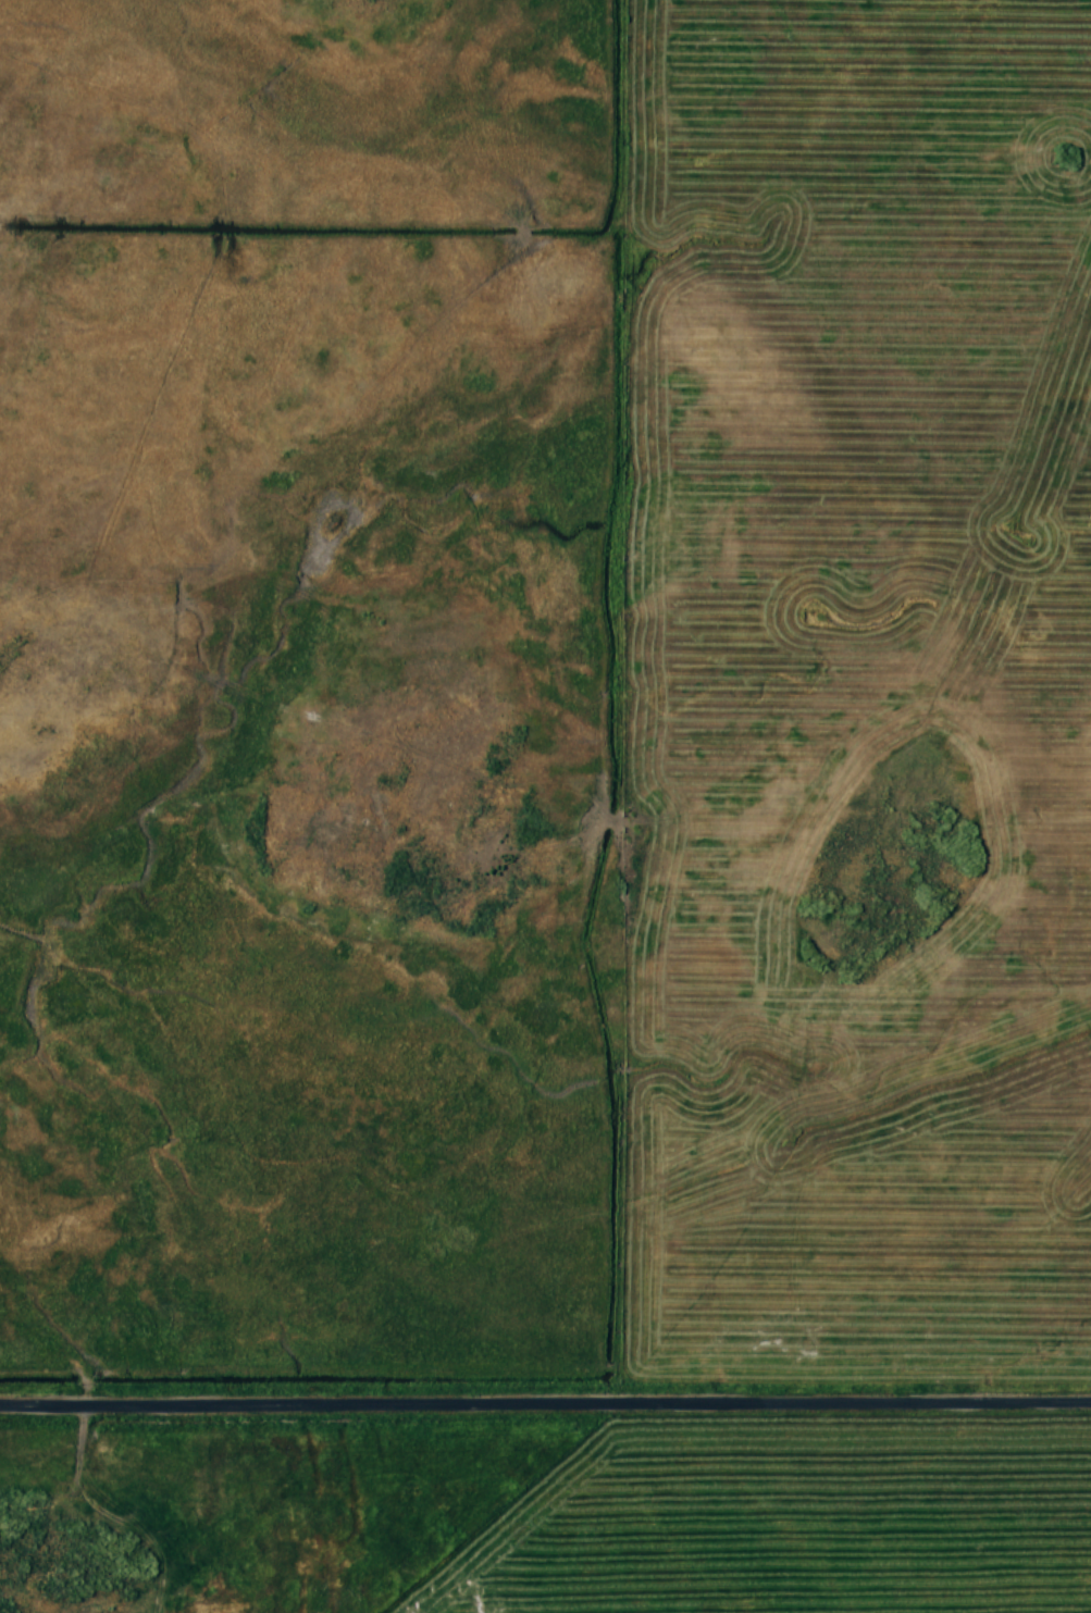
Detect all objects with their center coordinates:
road: (545, 1403)

